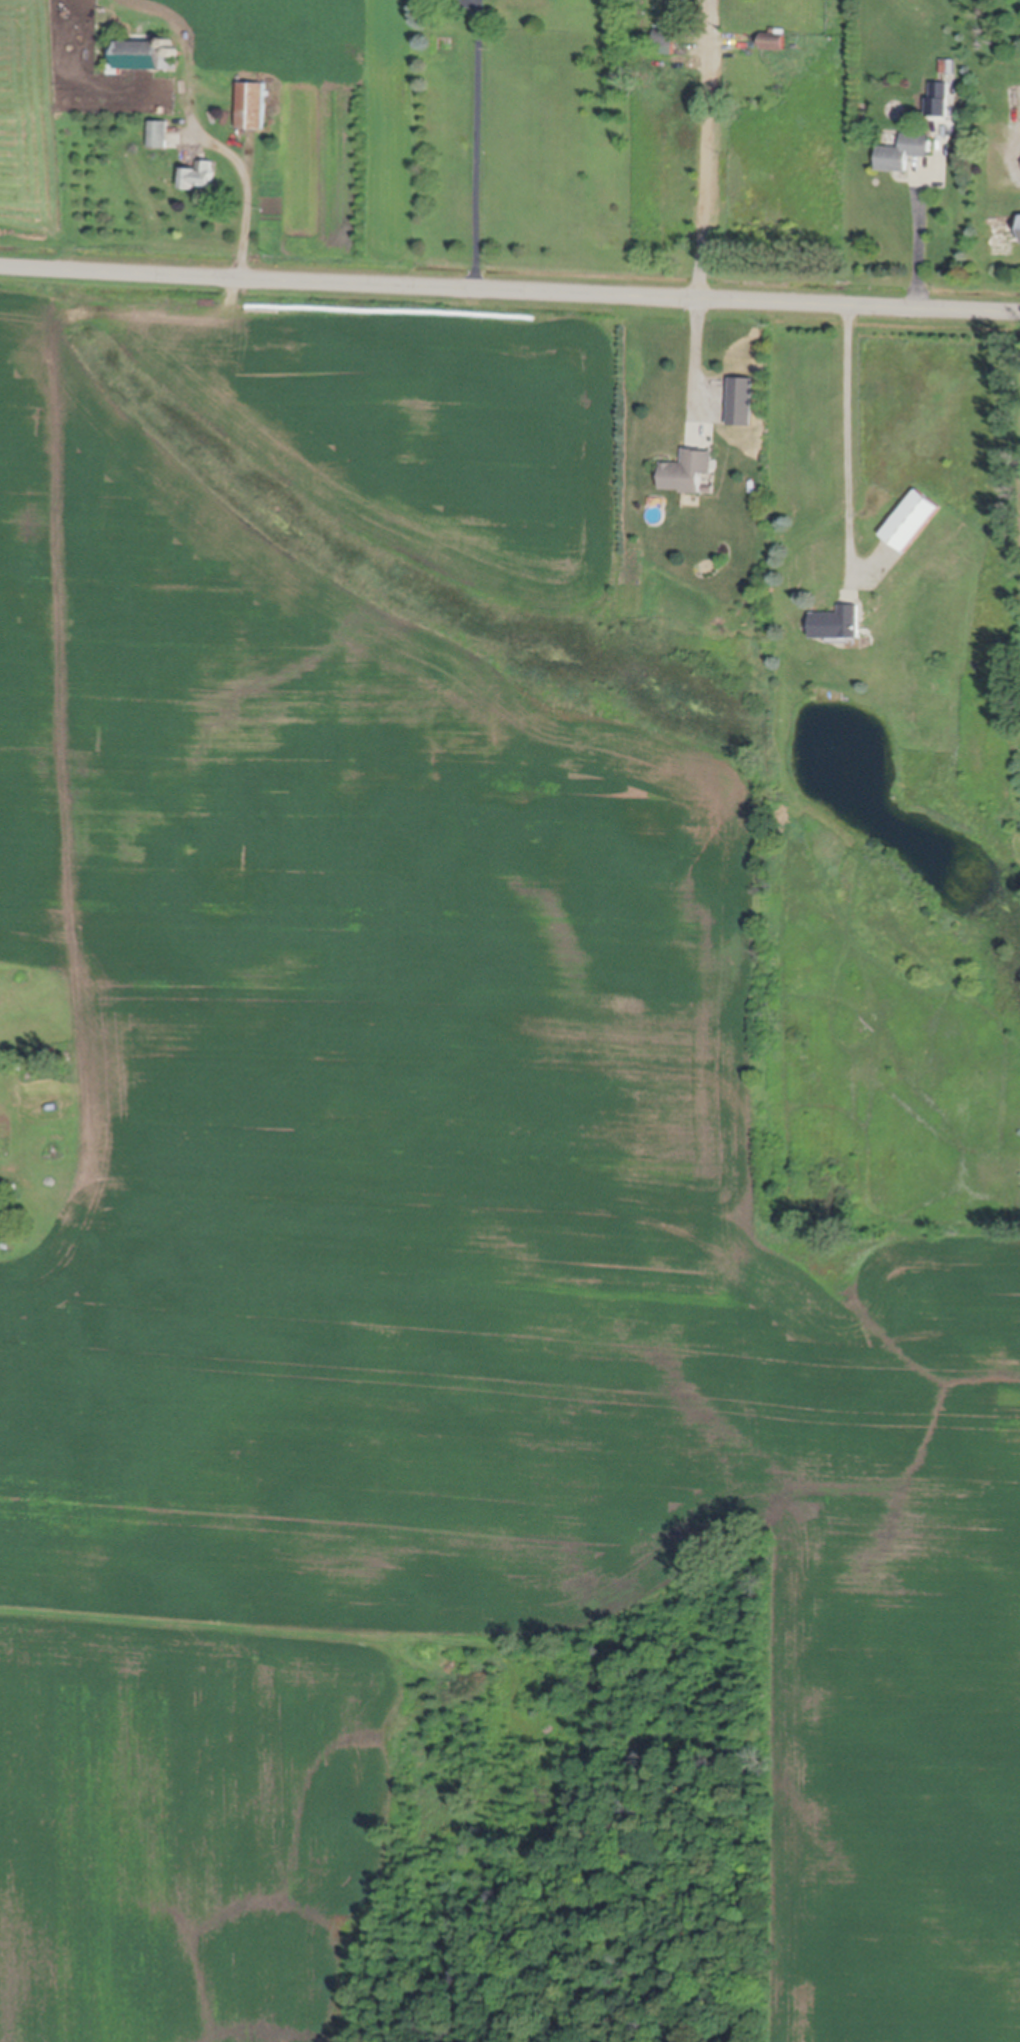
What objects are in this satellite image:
building: (771, 38)
building: (169, 40)
building: (664, 40)
building: (141, 54)
building: (940, 89)
building: (252, 103)
building: (159, 133)
road: (478, 144)
road: (705, 149)
building: (904, 150)
building: (199, 174)
road: (247, 184)
building: (1004, 228)
road: (918, 240)
road: (509, 290)
road: (698, 360)
road: (850, 436)
building: (690, 470)
building: (709, 488)
building: (911, 520)
building: (838, 622)
building: (73, 1085)
building: (9, 1247)

